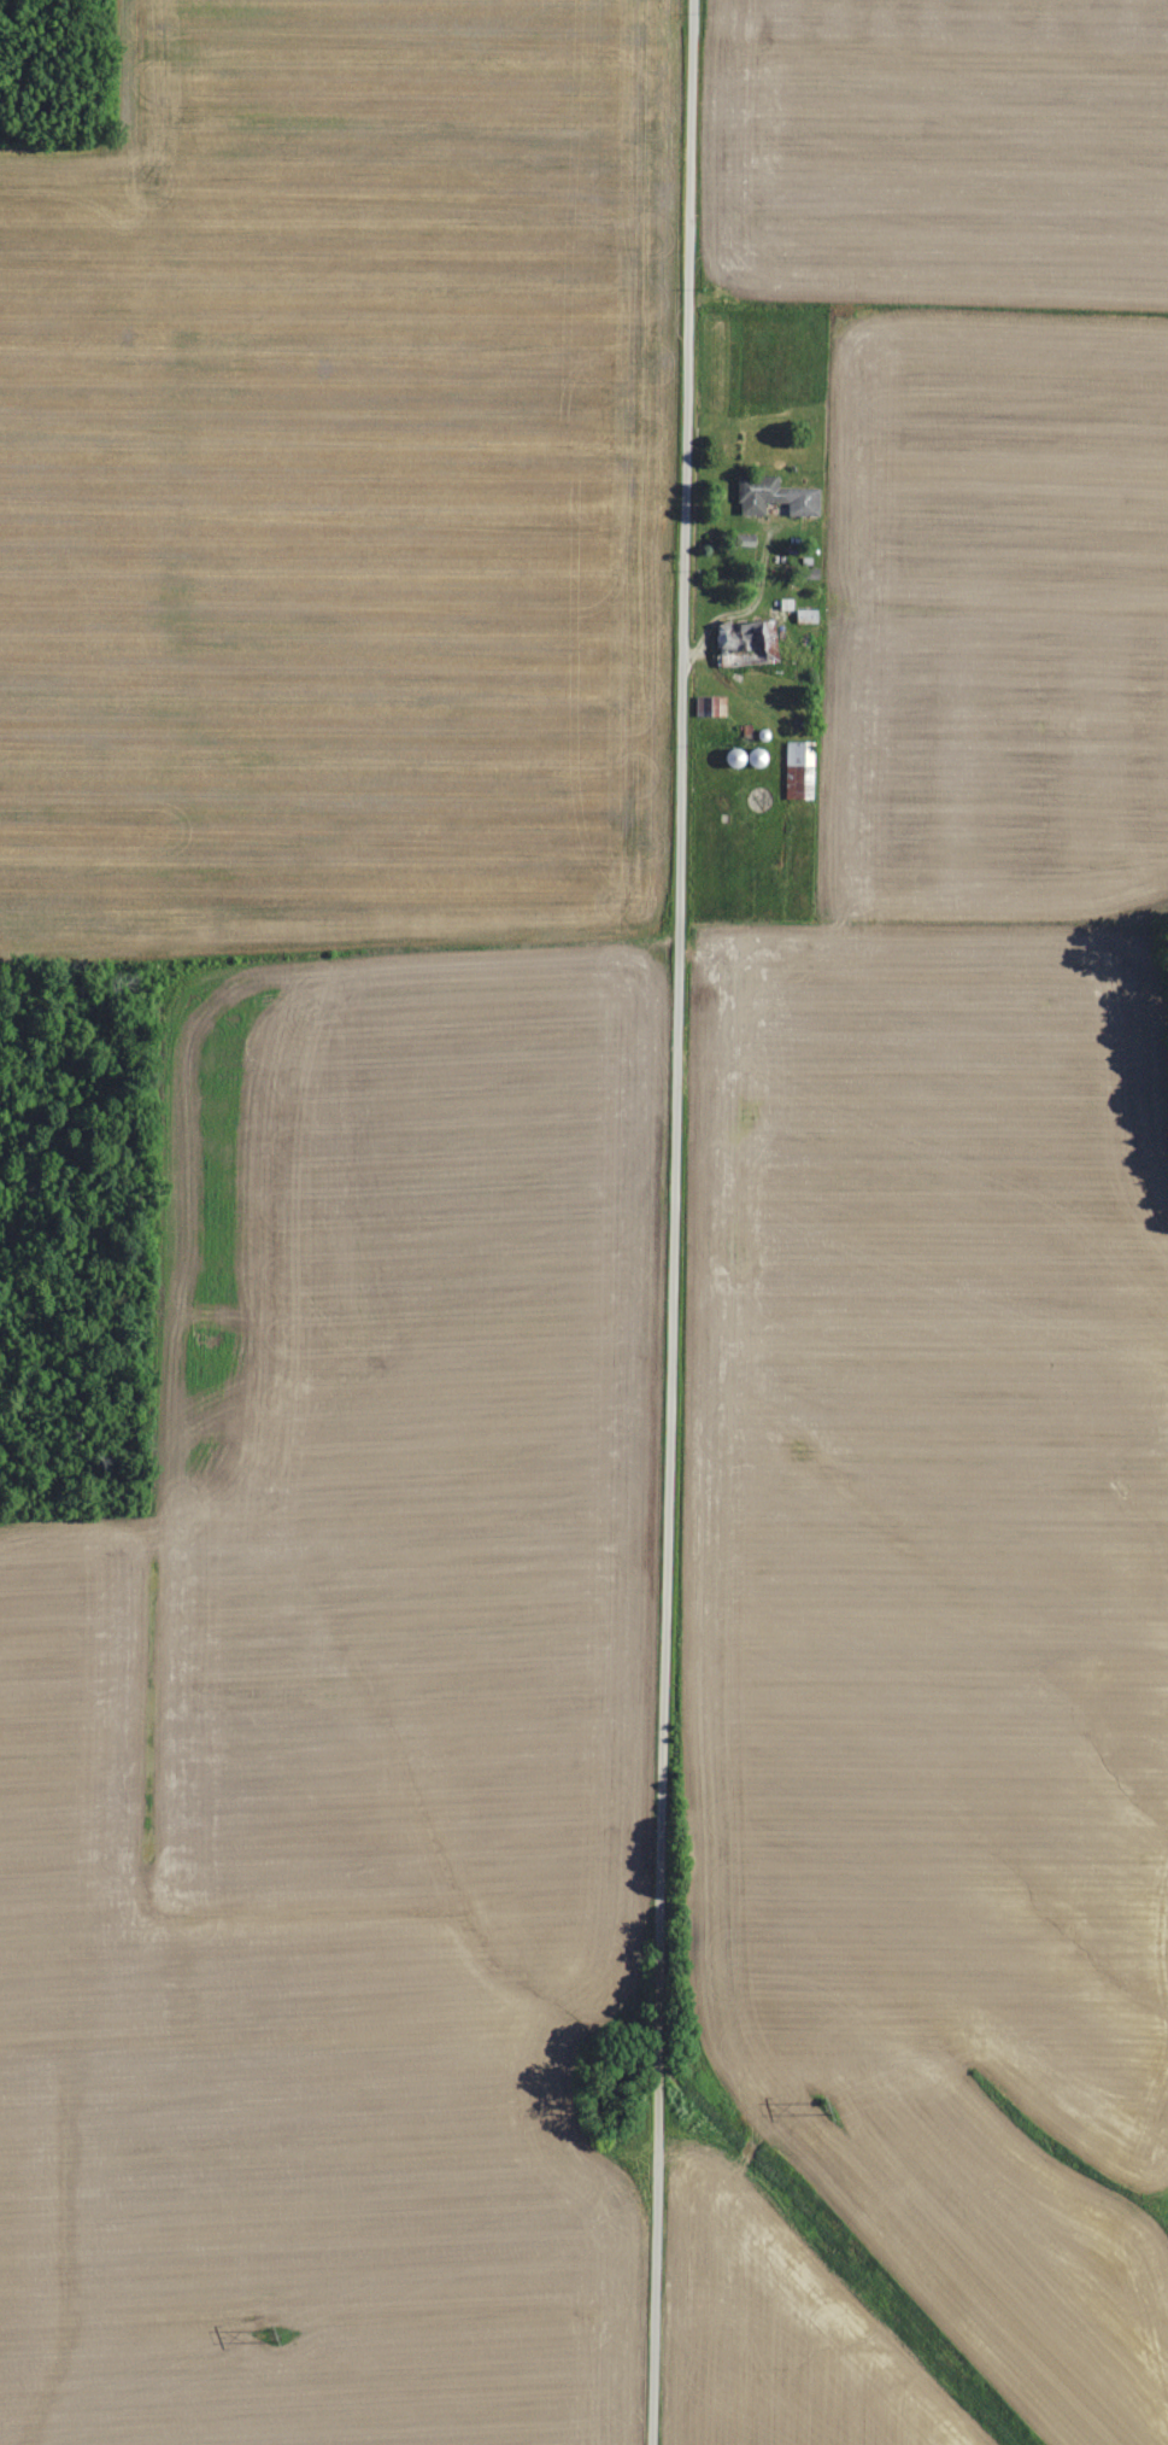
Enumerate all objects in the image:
building: (780, 496)
building: (740, 636)
building: (802, 768)
road: (673, 1222)

